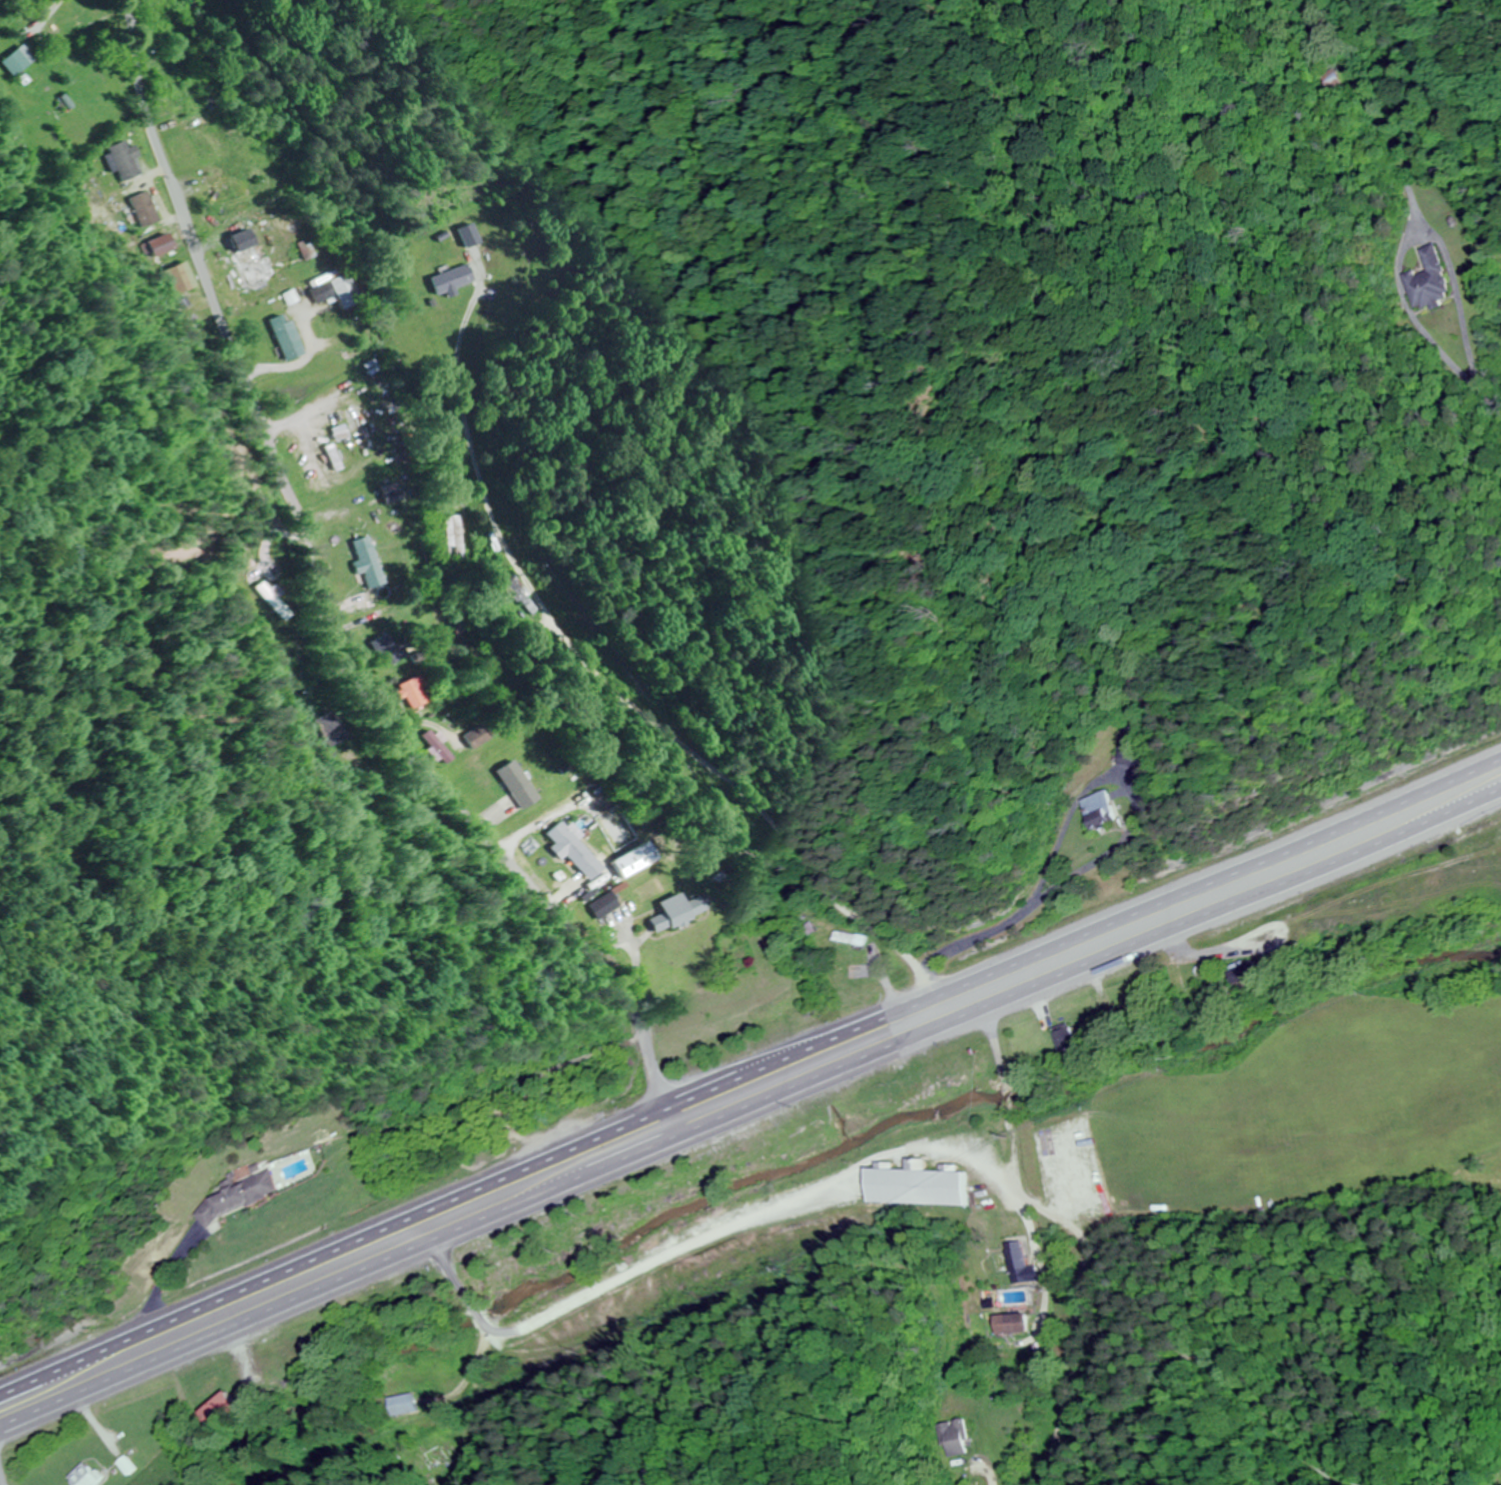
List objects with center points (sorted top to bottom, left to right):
building: (85, 28)
building: (21, 61)
building: (128, 161)
building: (225, 193)
building: (148, 209)
building: (165, 245)
building: (252, 257)
building: (184, 279)
building: (452, 280)
building: (1430, 281)
building: (338, 292)
road: (218, 307)
building: (290, 338)
building: (344, 433)
building: (395, 497)
building: (454, 538)
building: (372, 557)
building: (277, 601)
building: (392, 649)
building: (416, 694)
building: (336, 729)
building: (478, 738)
building: (520, 786)
building: (1102, 811)
building: (577, 851)
building: (637, 861)
road: (519, 866)
building: (609, 906)
building: (687, 912)
building: (853, 939)
building: (1250, 973)
building: (1136, 1015)
building: (1073, 1042)
road: (750, 1071)
road: (749, 1109)
building: (924, 1185)
building: (242, 1199)
building: (1021, 1264)
building: (1013, 1324)
building: (407, 1405)
building: (231, 1409)
building: (955, 1437)
building: (436, 1456)
building: (132, 1466)
building: (89, 1475)
road: (1, 1482)

